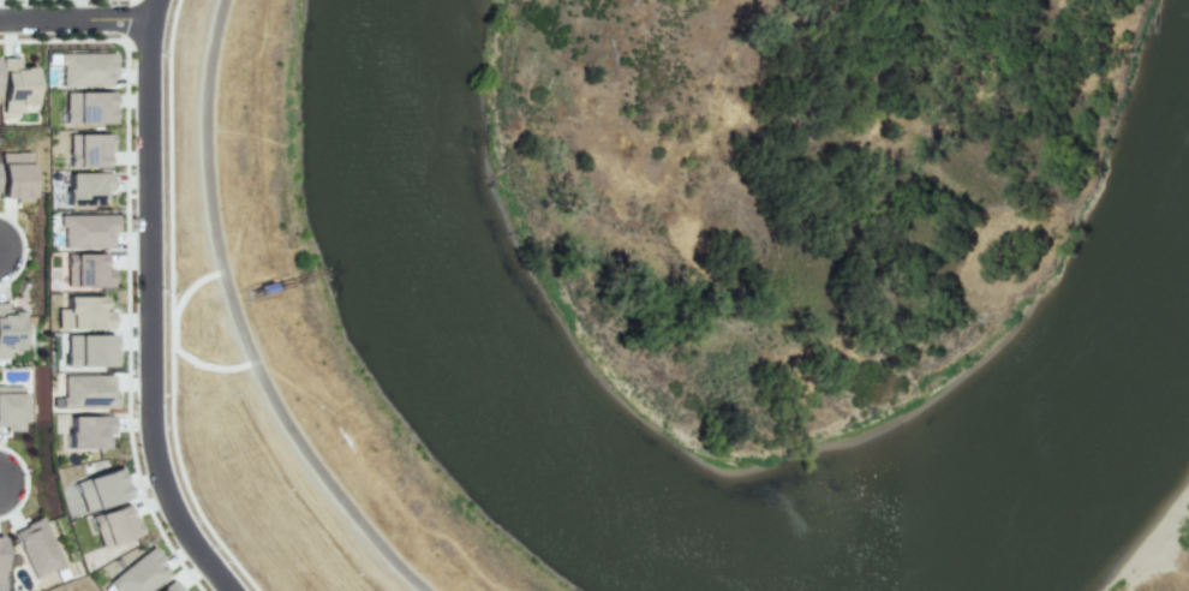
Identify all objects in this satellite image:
road: (154, 8)
road: (76, 18)
building: (84, 67)
building: (14, 86)
building: (86, 108)
building: (86, 150)
building: (16, 175)
building: (84, 189)
building: (86, 231)
road: (25, 249)
road: (129, 263)
building: (86, 270)
road: (172, 306)
building: (83, 314)
road: (150, 314)
road: (239, 323)
building: (10, 328)
building: (89, 350)
building: (86, 390)
building: (11, 406)
building: (88, 431)
road: (28, 480)
building: (101, 489)
building: (114, 525)
building: (38, 545)
river: (639, 556)
building: (0, 561)
building: (139, 574)
building: (169, 586)

